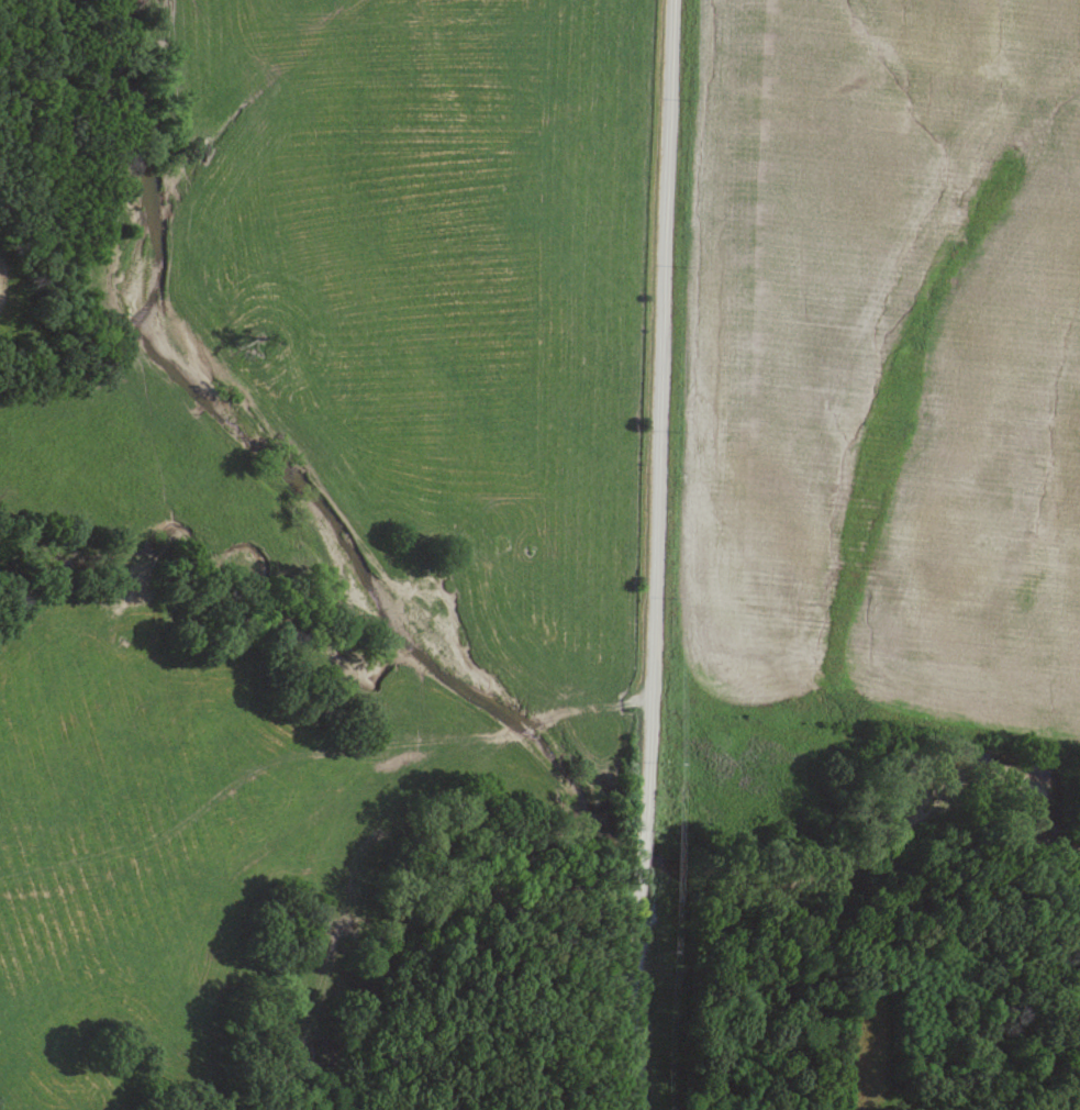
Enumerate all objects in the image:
road: (657, 555)

